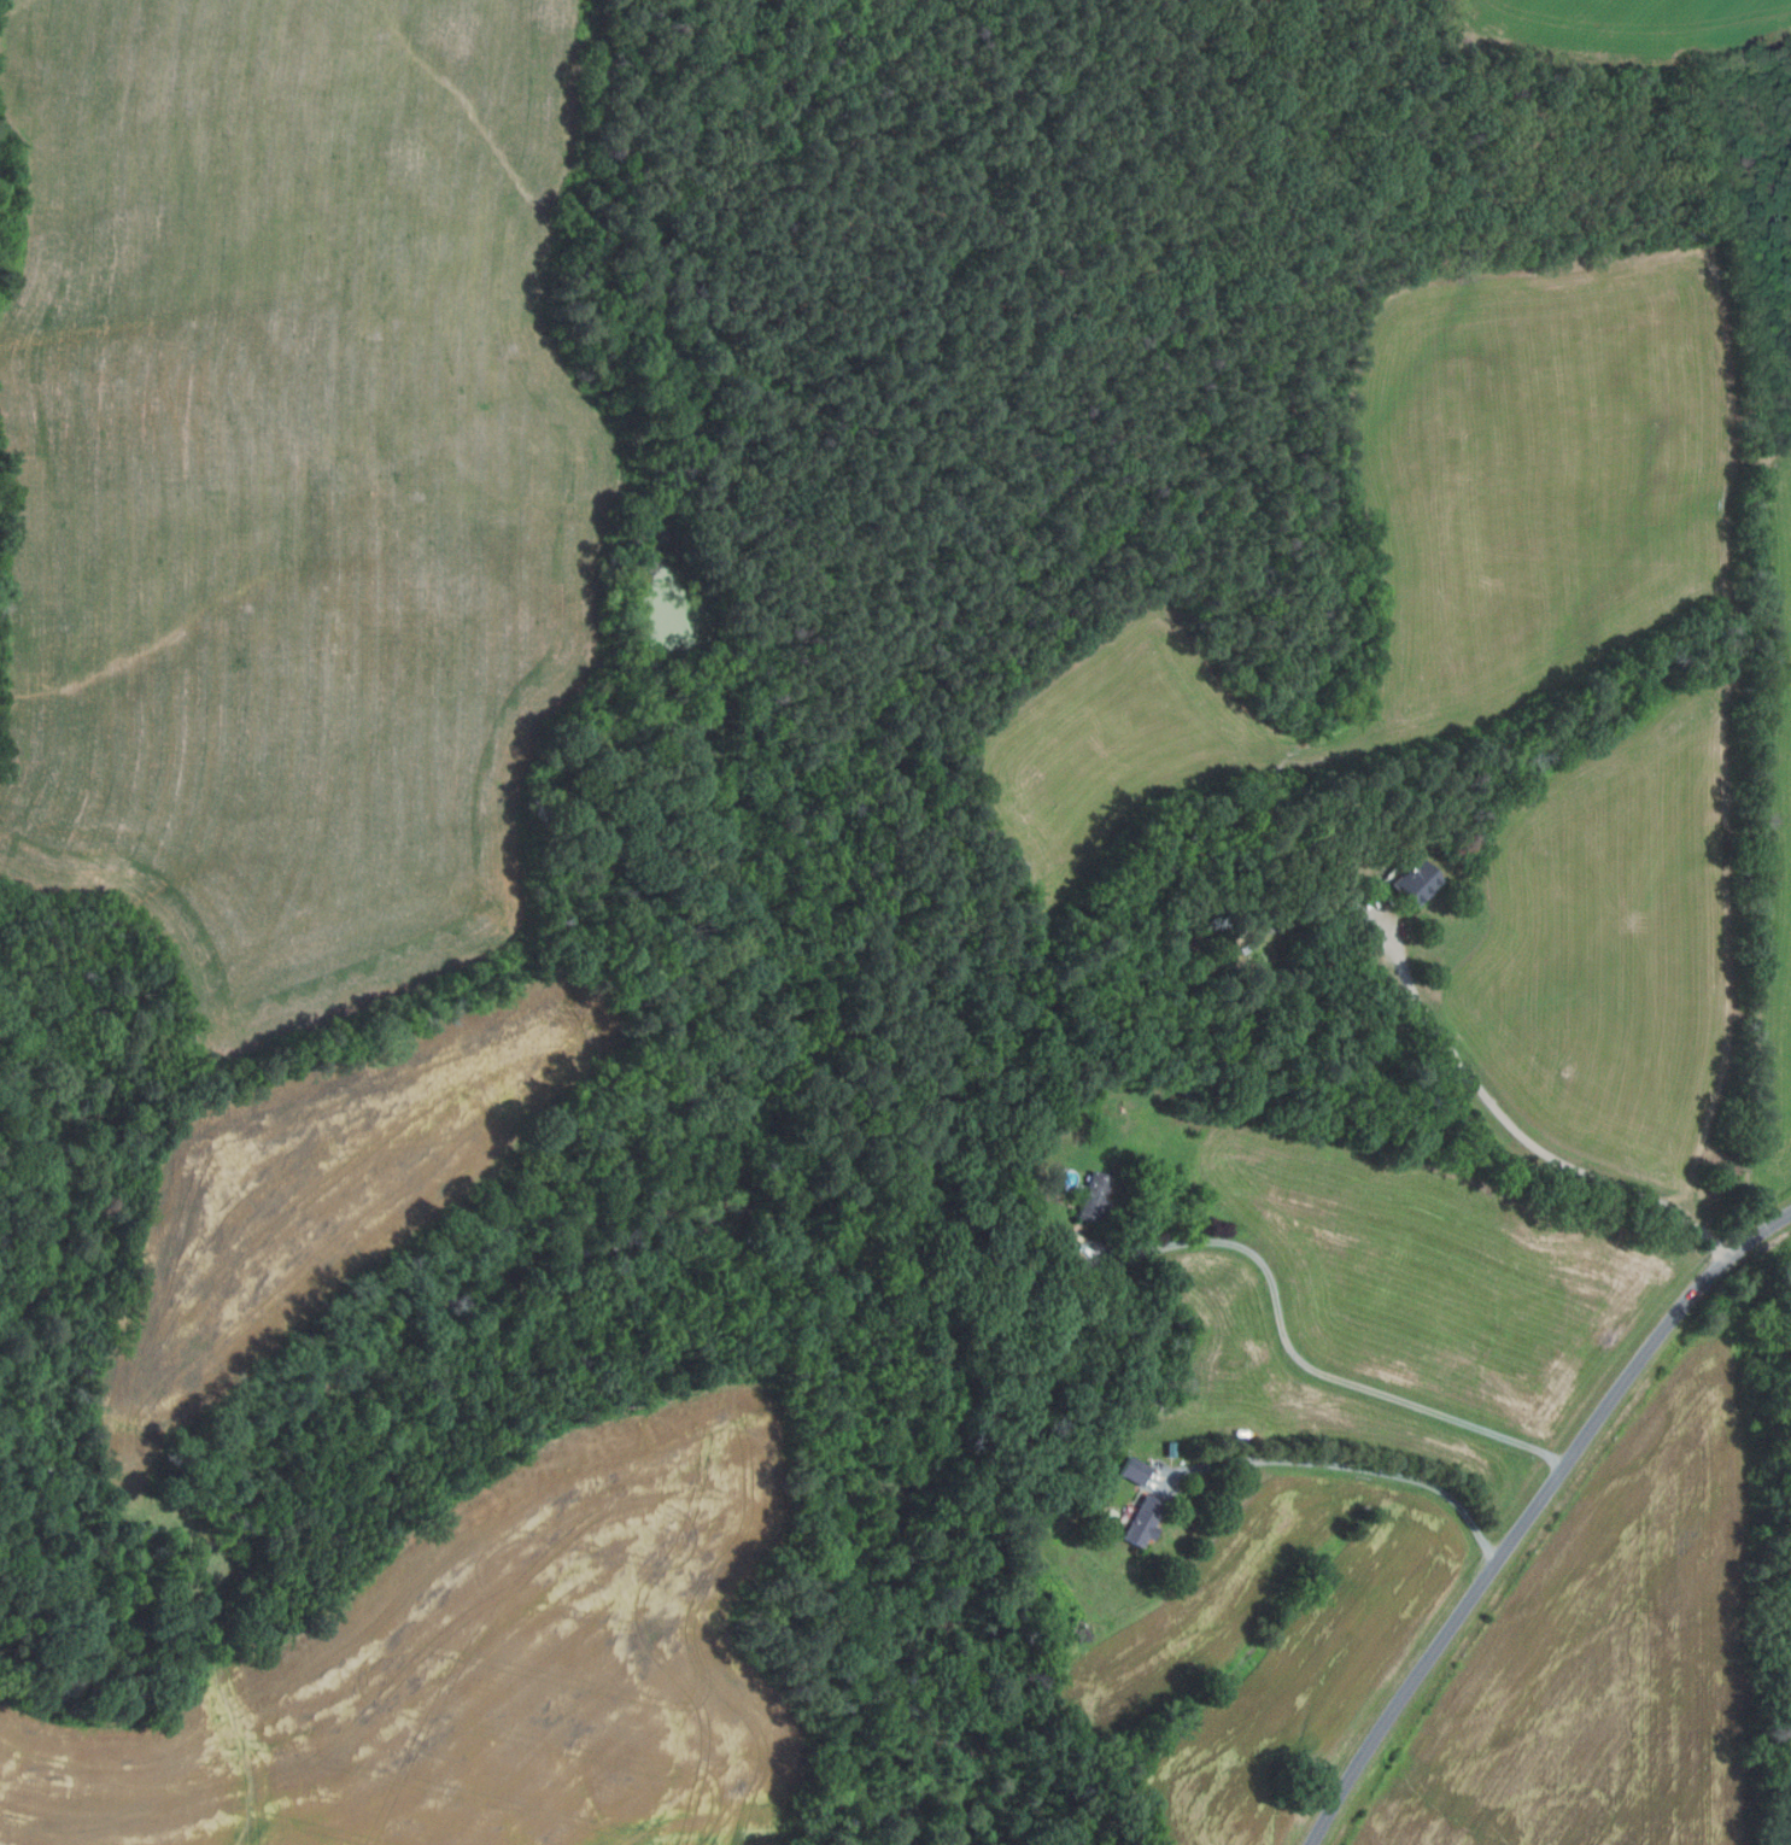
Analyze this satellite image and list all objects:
building: (1415, 880)
building: (1190, 1089)
road: (1514, 1131)
building: (1093, 1196)
road: (1293, 1354)
building: (1014, 1441)
building: (1169, 1448)
road: (1353, 1468)
building: (1130, 1470)
road: (1532, 1511)
building: (1140, 1521)

